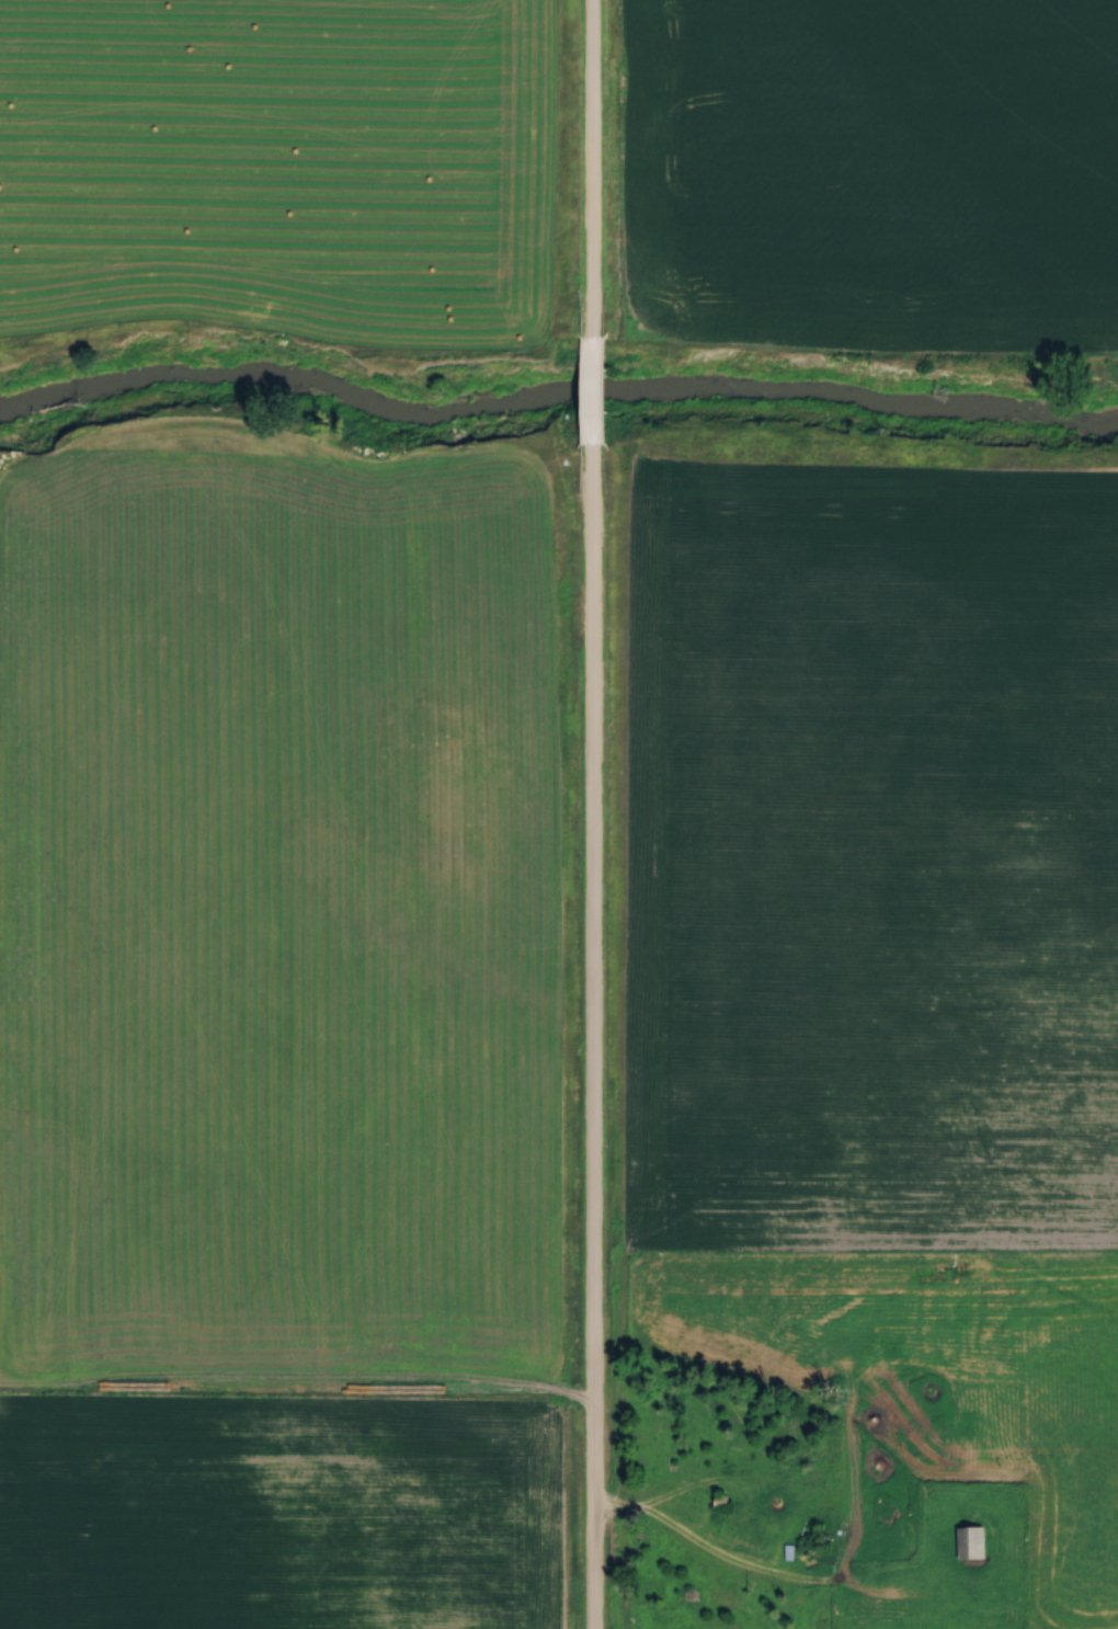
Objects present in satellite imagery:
road: (590, 172)
river: (552, 396)
road: (593, 417)
road: (592, 1059)
building: (973, 1540)
road: (704, 1548)

